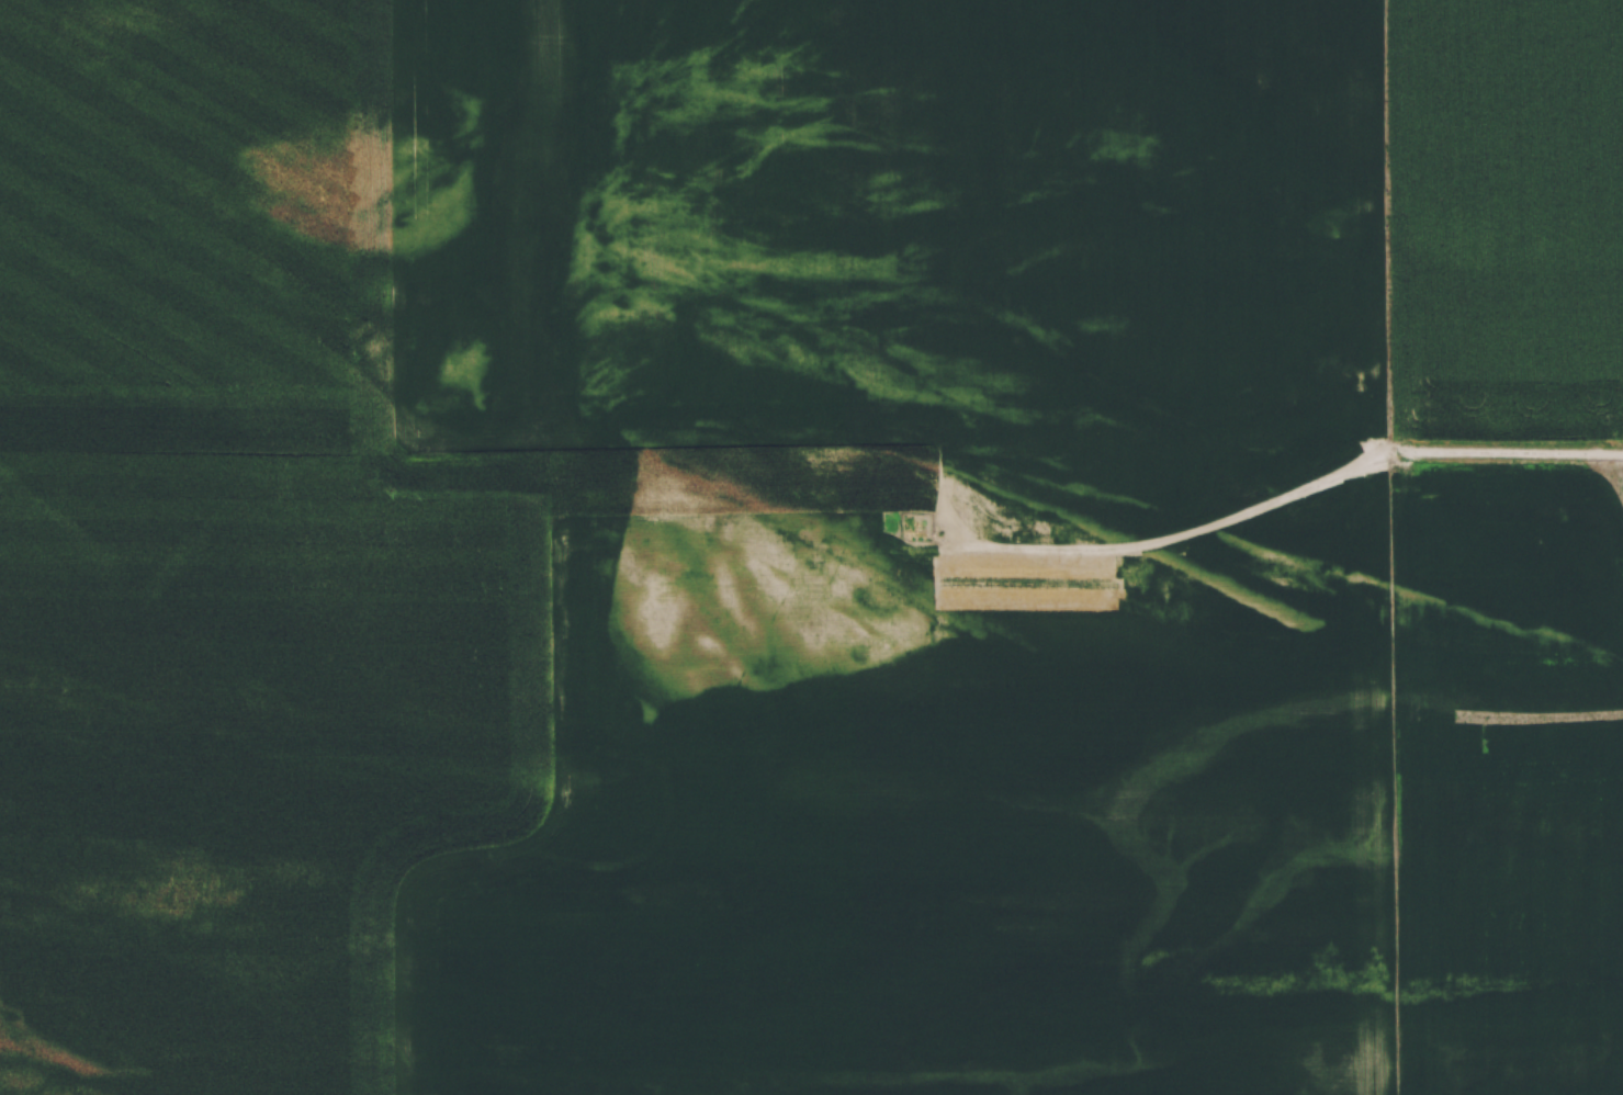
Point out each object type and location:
road: (1519, 452)

